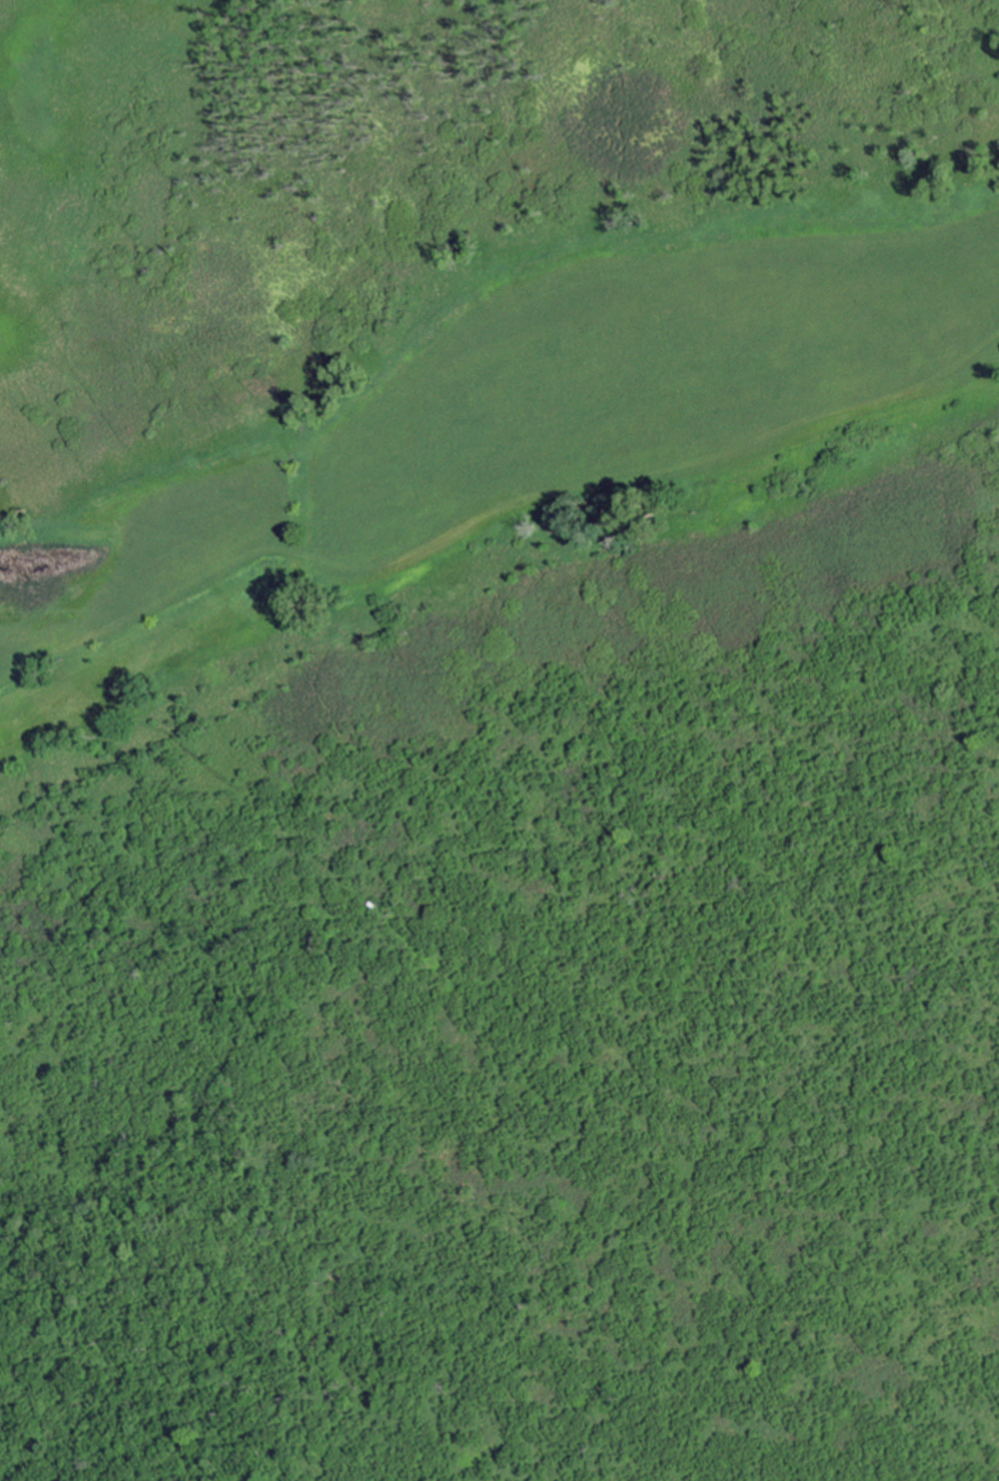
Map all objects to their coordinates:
building: (378, 903)

